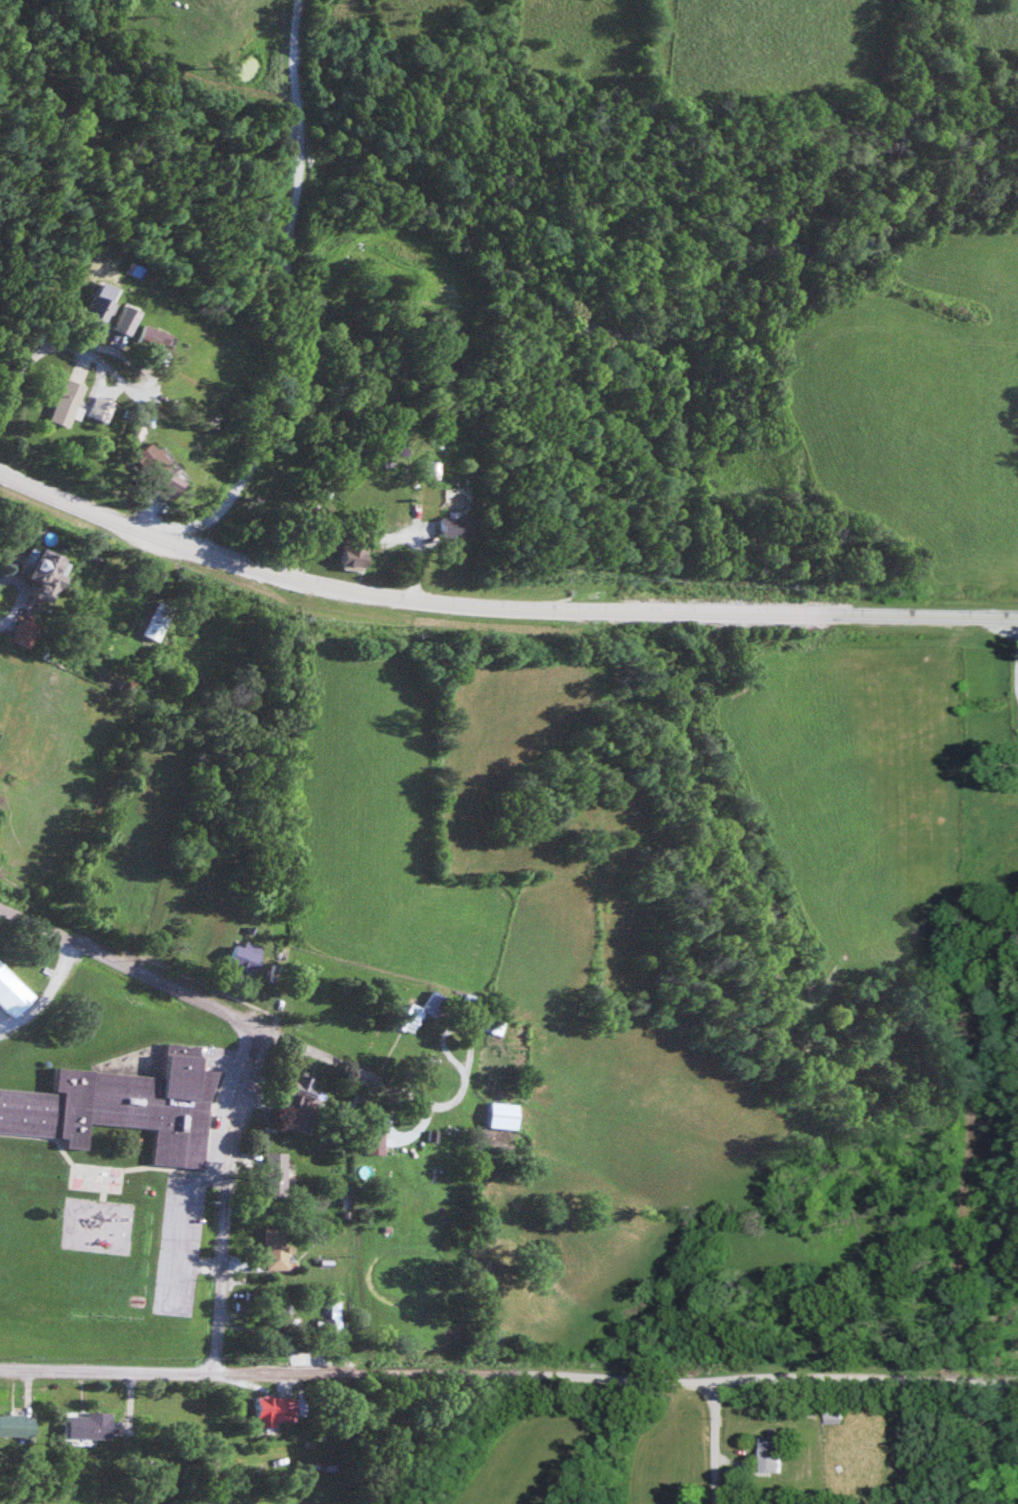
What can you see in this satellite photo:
road: (293, 303)
building: (100, 305)
building: (151, 336)
road: (49, 349)
road: (139, 385)
road: (8, 398)
building: (71, 399)
building: (147, 456)
building: (457, 526)
building: (357, 551)
building: (50, 573)
road: (497, 611)
building: (156, 620)
building: (26, 631)
building: (243, 959)
building: (274, 973)
building: (13, 992)
road: (211, 1004)
building: (301, 1092)
road: (242, 1103)
building: (124, 1104)
building: (504, 1115)
building: (375, 1142)
building: (274, 1163)
building: (274, 1248)
road: (223, 1274)
building: (333, 1325)
road: (509, 1367)
building: (275, 1410)
building: (17, 1425)
building: (89, 1425)
road: (710, 1439)
building: (776, 1455)

